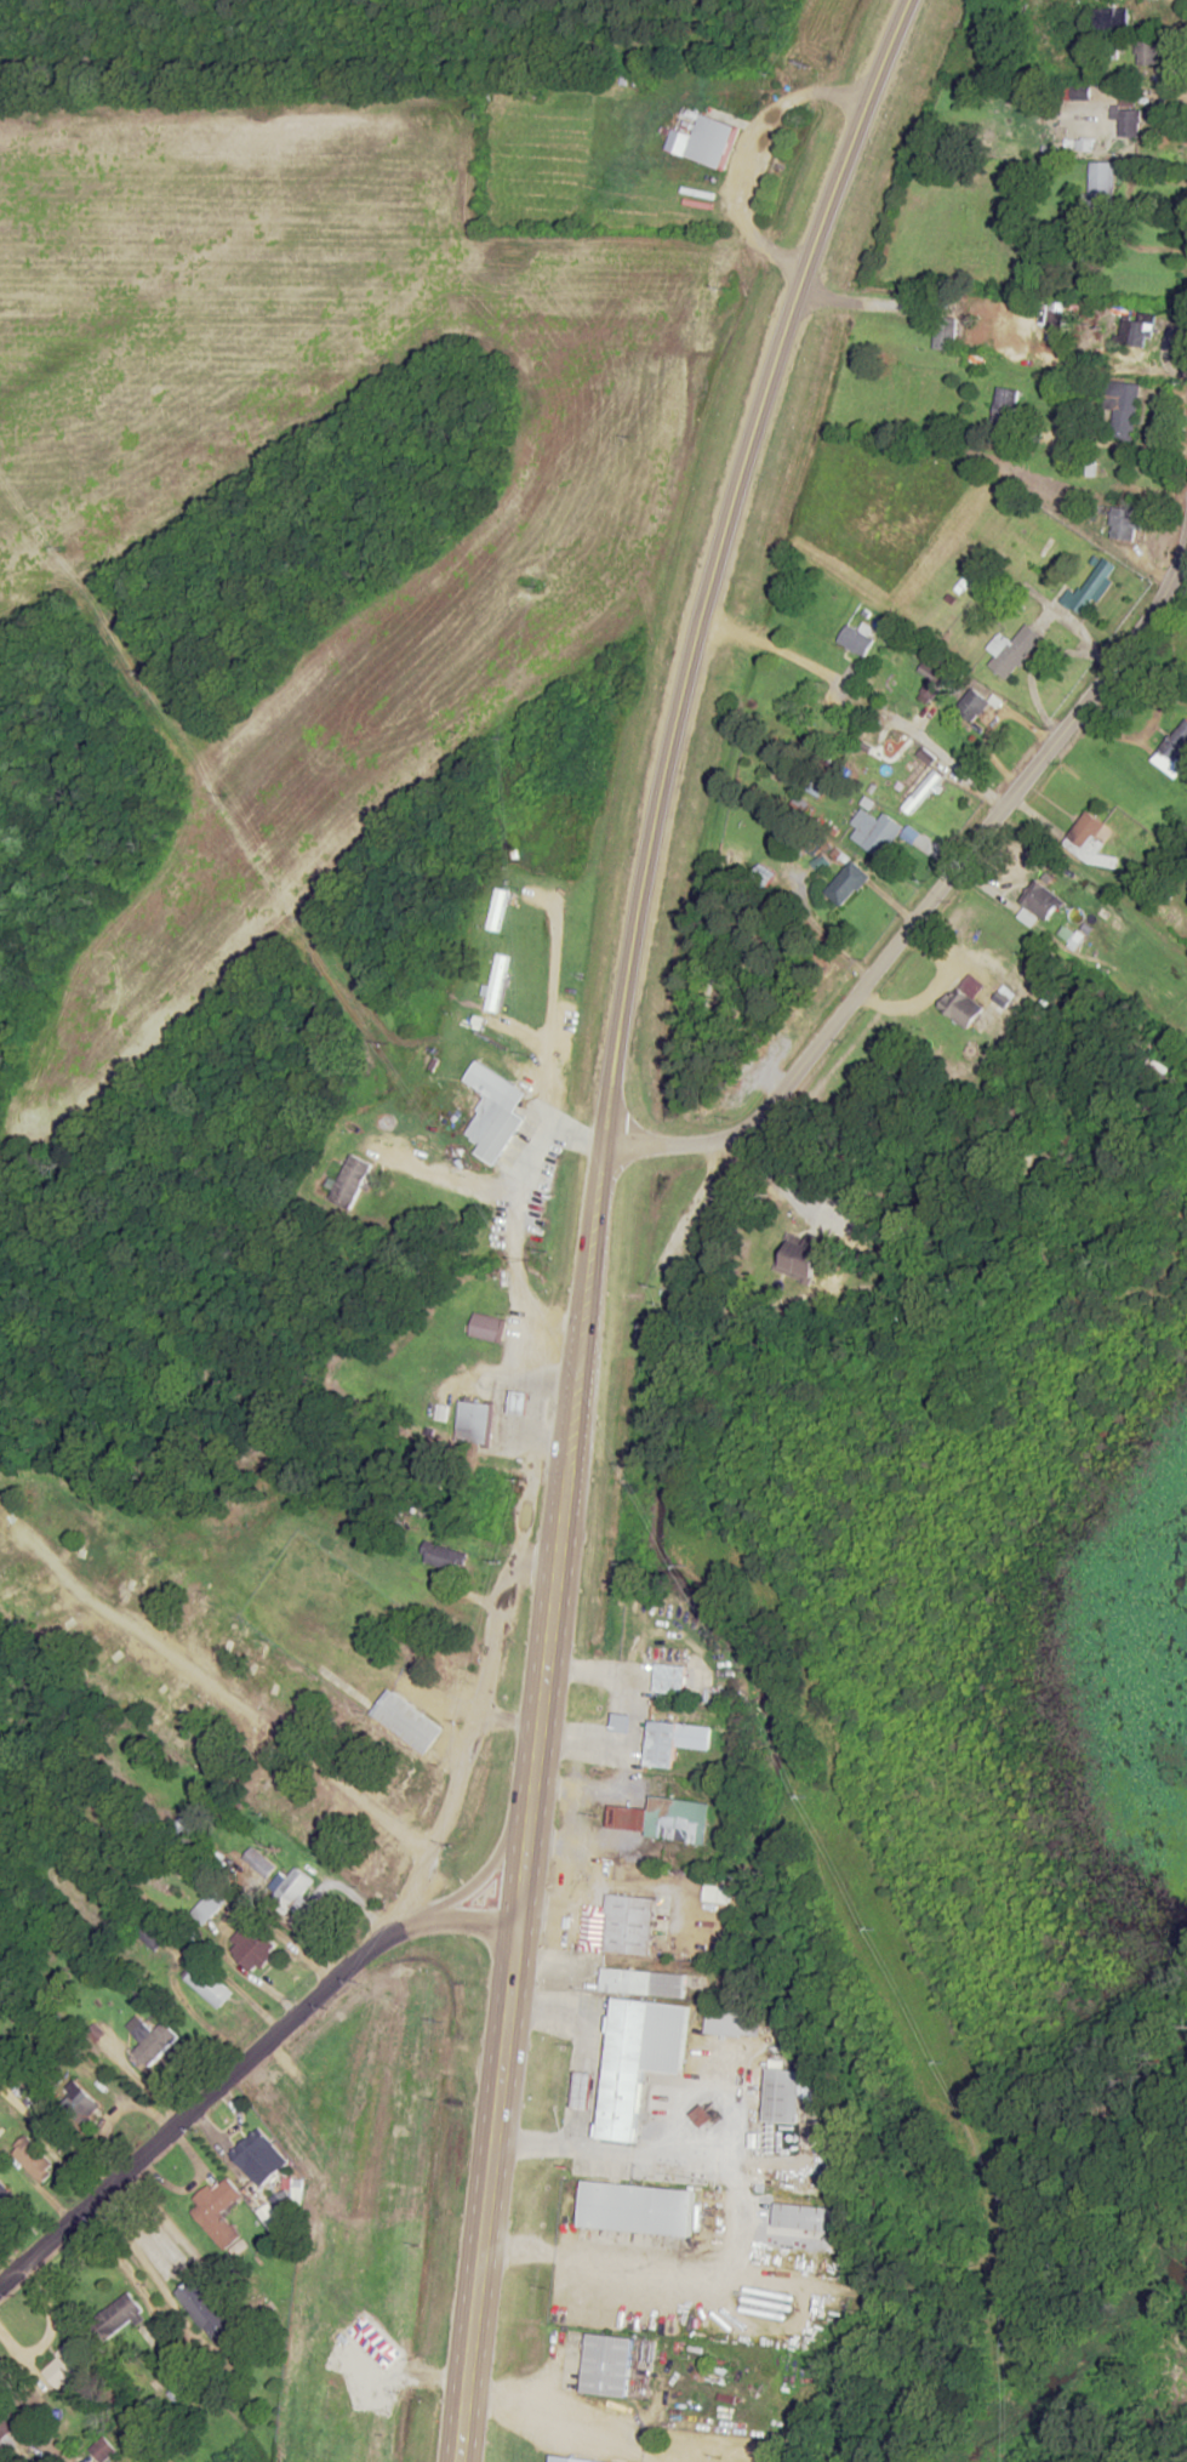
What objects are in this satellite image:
building: (1109, 18)
building: (1147, 53)
building: (1128, 120)
building: (702, 142)
building: (1101, 188)
road: (743, 222)
building: (945, 332)
road: (1100, 370)
building: (1004, 406)
building: (1123, 409)
building: (1126, 525)
building: (1091, 586)
building: (855, 642)
building: (1012, 651)
building: (931, 683)
building: (972, 705)
road: (918, 742)
building: (1174, 751)
building: (873, 833)
building: (1086, 837)
building: (846, 884)
road: (938, 888)
building: (1043, 904)
building: (497, 982)
building: (960, 1008)
road: (546, 1066)
building: (495, 1111)
road: (445, 1176)
building: (349, 1182)
road: (589, 1210)
road: (513, 1229)
building: (486, 1327)
building: (520, 1402)
gas station: (520, 1402)
road: (502, 1410)
building: (473, 1421)
gas station: (473, 1421)
building: (92, 1545)
building: (443, 1556)
building: (142, 1578)
building: (21, 1584)
road: (496, 1625)
building: (236, 1648)
building: (669, 1680)
building: (145, 1692)
road: (227, 1694)
building: (172, 1708)
road: (509, 1720)
building: (406, 1721)
building: (621, 1723)
building: (194, 1726)
building: (672, 1740)
building: (664, 1819)
road: (439, 1824)
road: (567, 1853)
road: (483, 1875)
building: (291, 1891)
building: (210, 1907)
building: (629, 1925)
building: (152, 1937)
building: (252, 1947)
building: (643, 1984)
building: (209, 1985)
building: (734, 2024)
building: (153, 2042)
building: (637, 2062)
road: (241, 2063)
building: (582, 2091)
building: (782, 2096)
building: (76, 2103)
road: (681, 2142)
building: (259, 2158)
building: (33, 2160)
building: (5, 2199)
building: (624, 2206)
building: (218, 2211)
building: (799, 2216)
road: (121, 2267)
road: (2, 2275)
building: (205, 2310)
building: (119, 2315)
building: (64, 2365)
building: (607, 2365)
road: (571, 2418)
building: (11, 2430)
building: (102, 2450)
building: (571, 2460)

